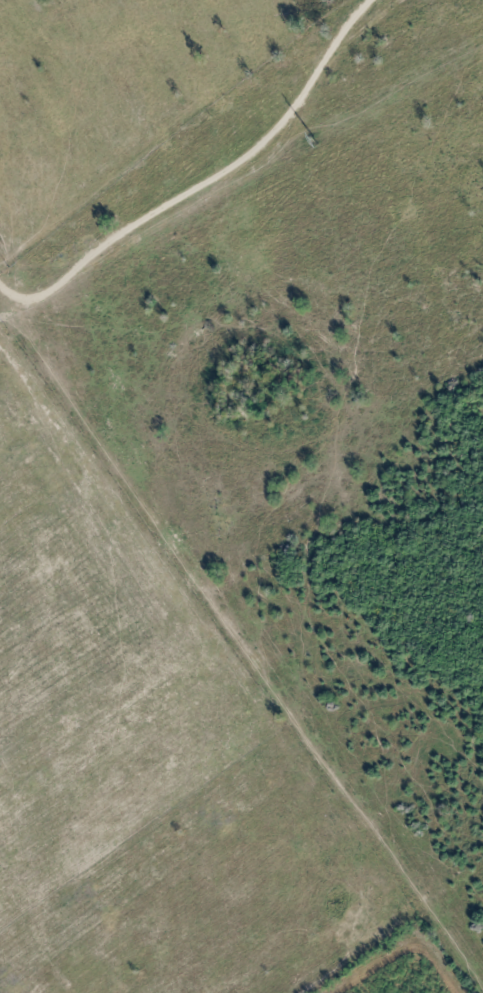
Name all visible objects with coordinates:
power tower: (320, 145)

